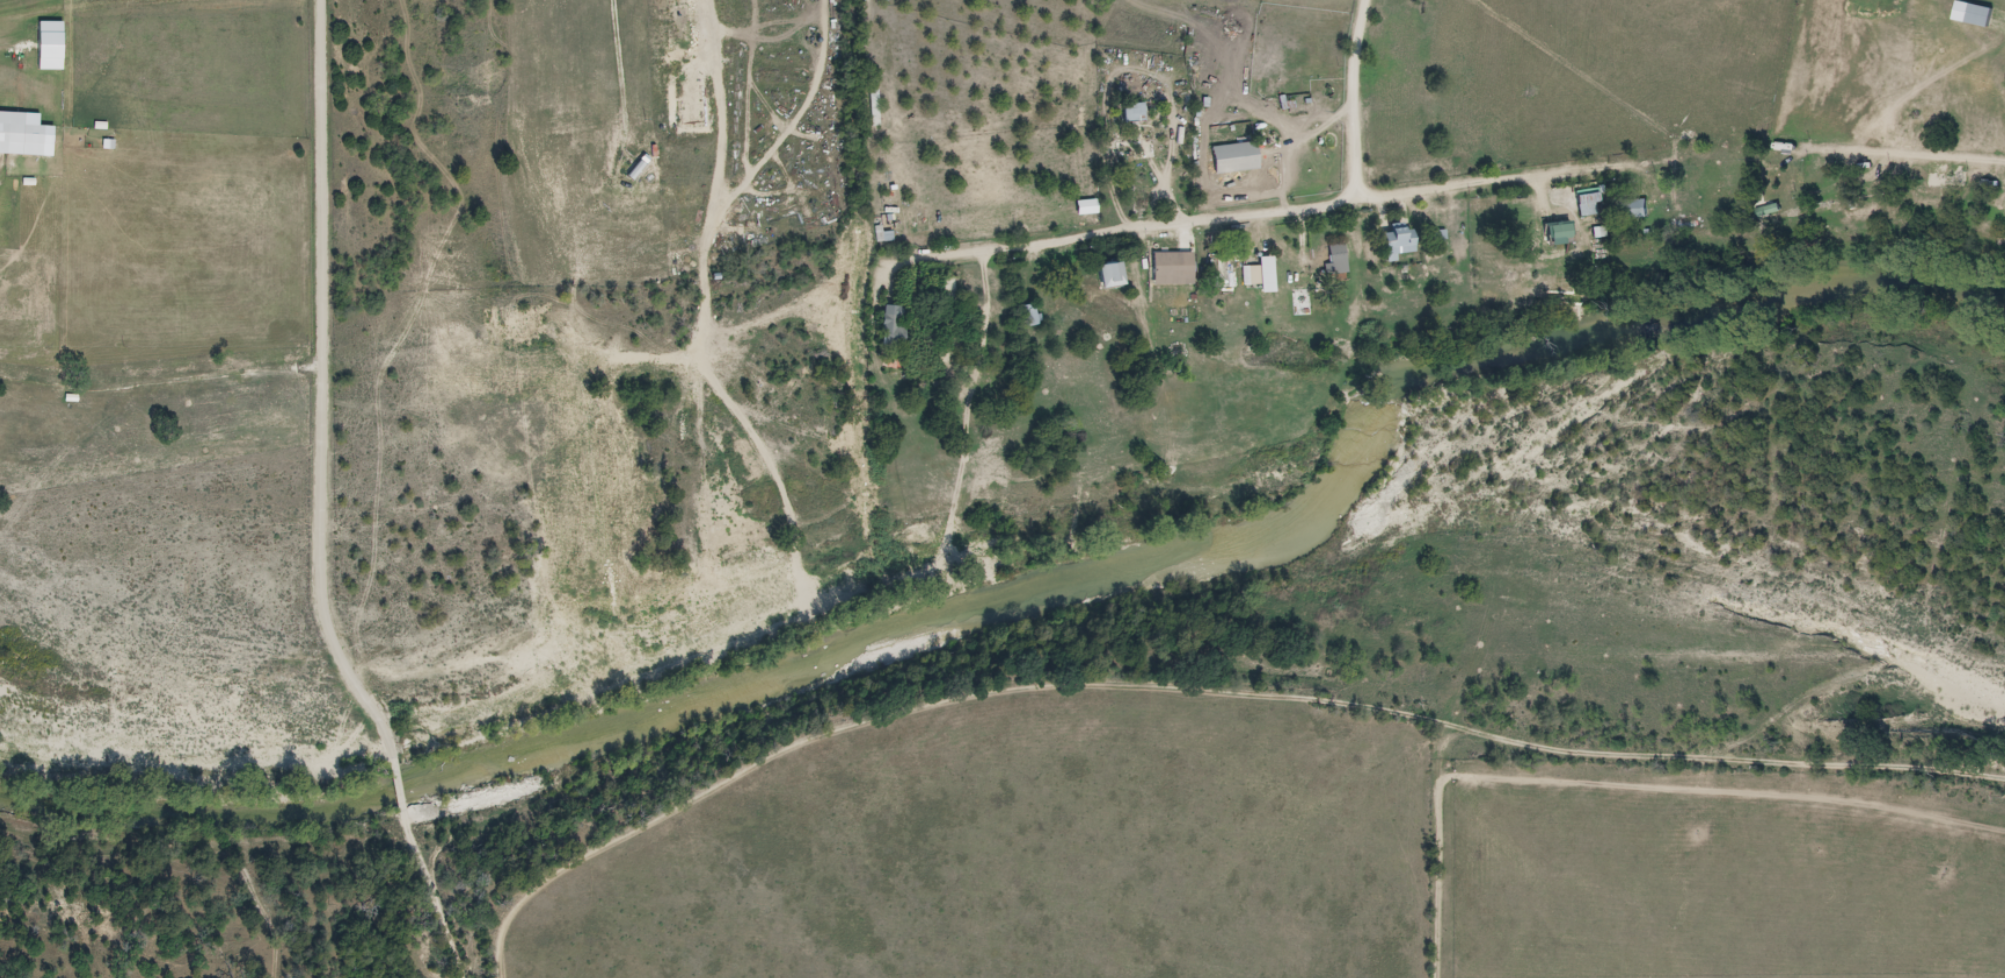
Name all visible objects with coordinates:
building: (1986, 15)
road: (1355, 98)
road: (885, 100)
building: (878, 107)
building: (1136, 112)
building: (1238, 157)
road: (1438, 186)
road: (1988, 191)
road: (740, 192)
building: (1639, 209)
building: (1777, 211)
road: (1169, 223)
building: (1693, 223)
building: (885, 233)
building: (1441, 238)
building: (1402, 241)
building: (1336, 258)
building: (1268, 263)
building: (1176, 267)
building: (1115, 273)
building: (1306, 303)
building: (1031, 313)
building: (895, 331)
road: (323, 502)
river: (1008, 615)

